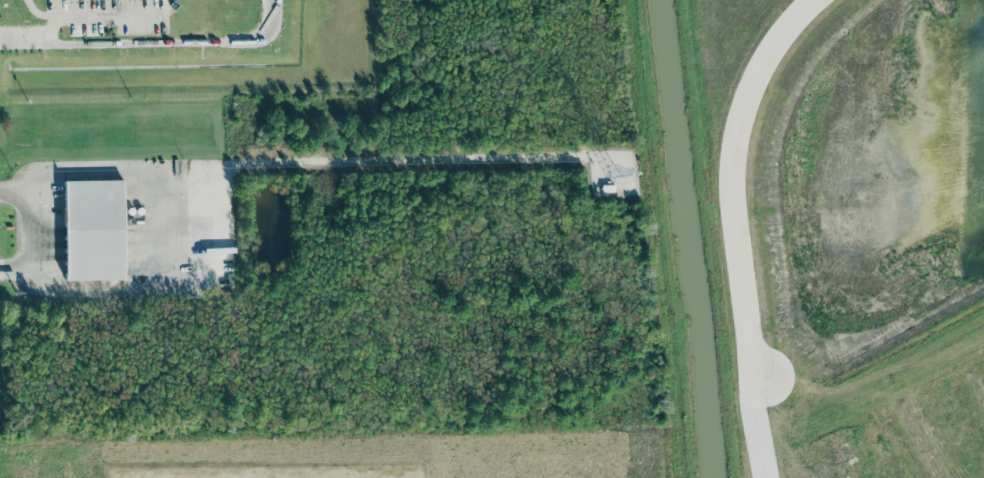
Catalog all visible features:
road: (152, 43)
road: (736, 227)
road: (176, 228)
building: (95, 231)
road: (41, 233)

